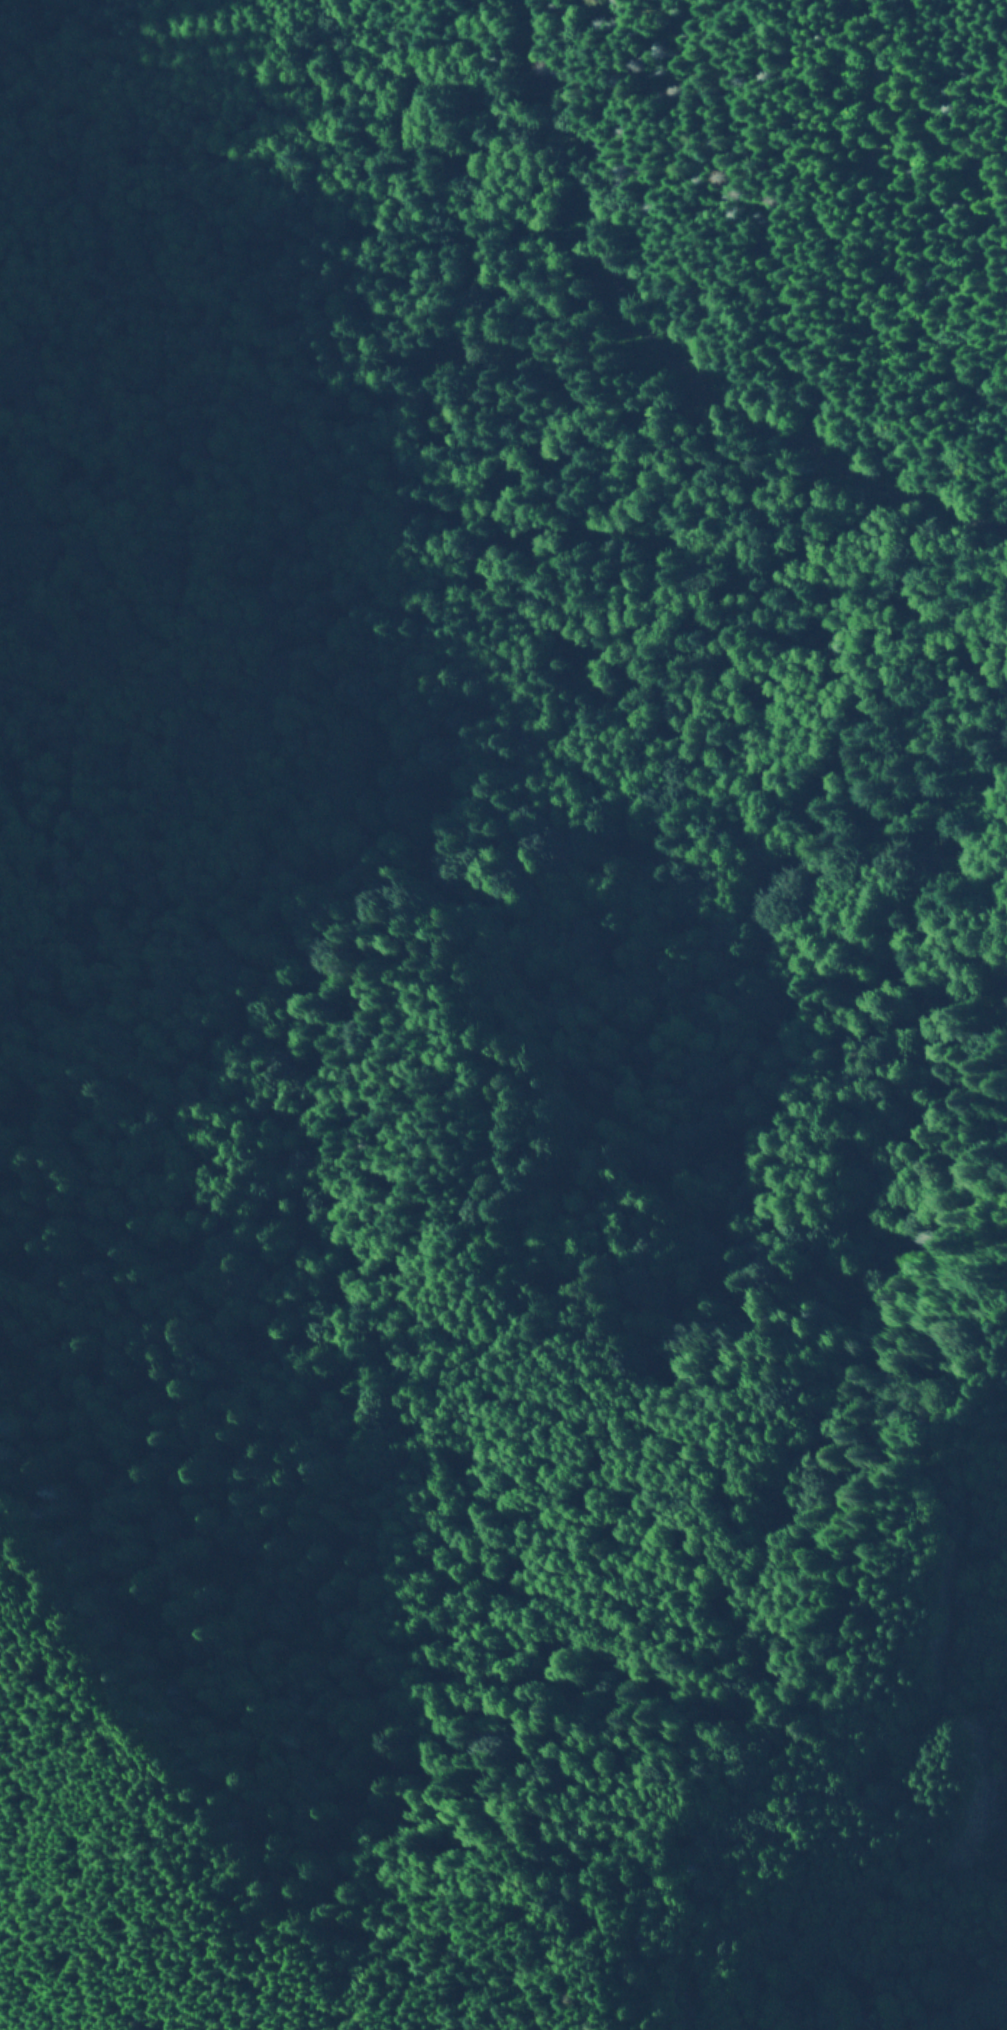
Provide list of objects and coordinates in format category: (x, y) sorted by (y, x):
road: (692, 342)

